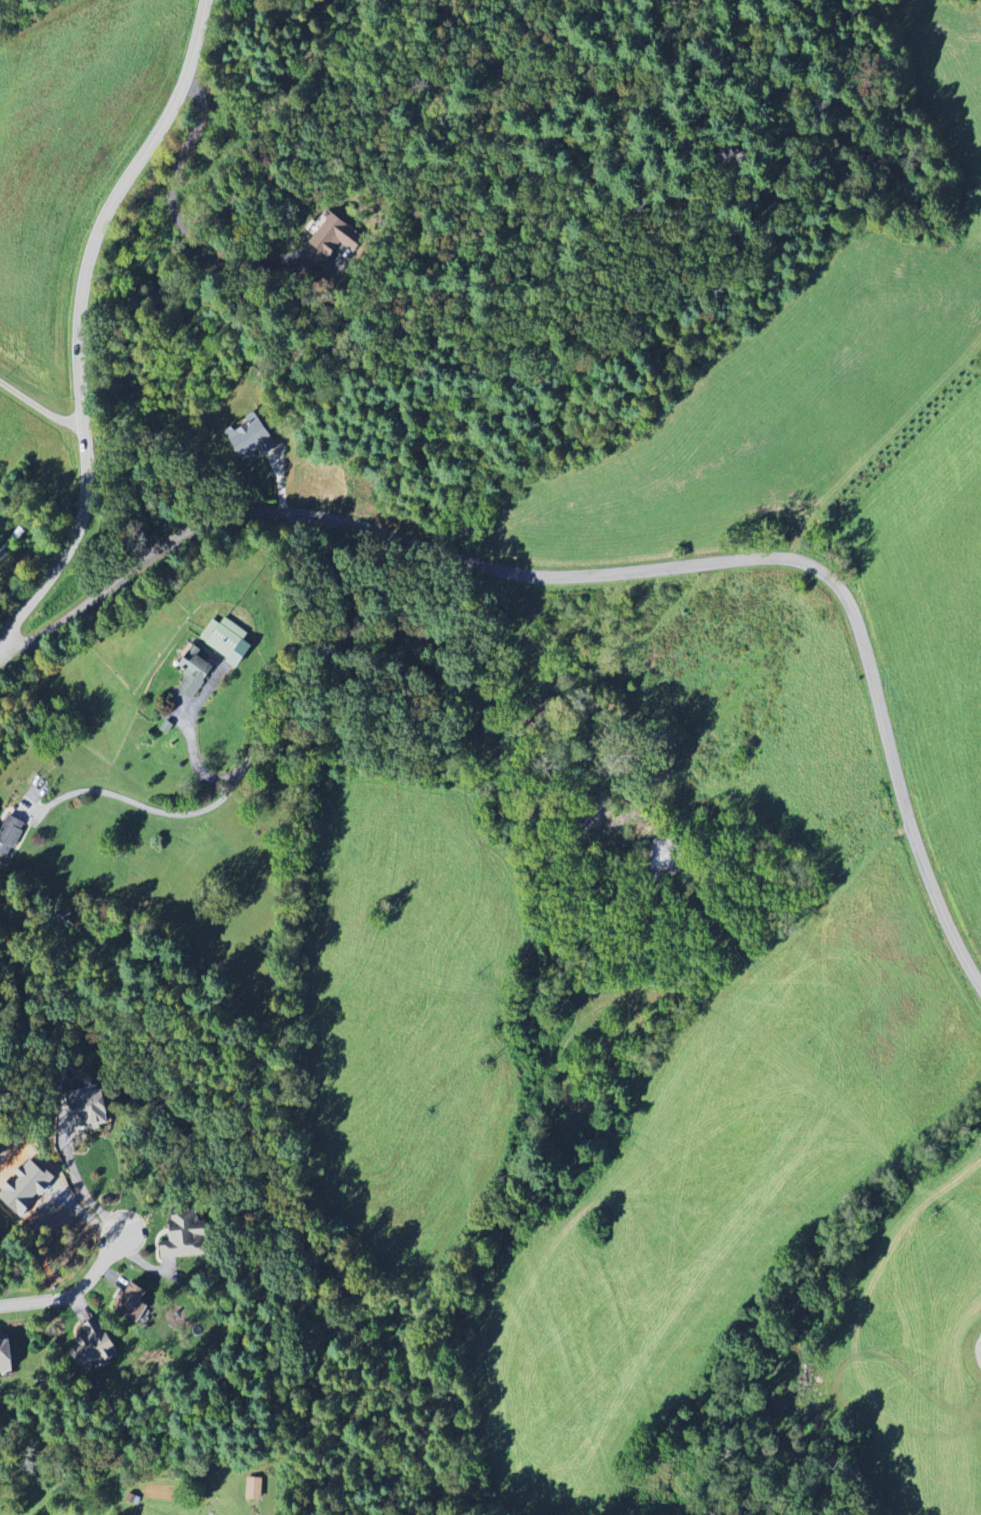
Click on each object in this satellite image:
road: (184, 229)
building: (337, 237)
road: (82, 322)
road: (44, 402)
building: (253, 439)
road: (617, 581)
building: (231, 641)
building: (199, 672)
road: (190, 744)
road: (252, 747)
building: (590, 820)
building: (11, 836)
building: (666, 857)
building: (91, 1109)
road: (79, 1182)
building: (23, 1188)
building: (0, 1224)
building: (185, 1236)
road: (74, 1290)
building: (134, 1302)
building: (93, 1346)
building: (7, 1356)
building: (253, 1489)

